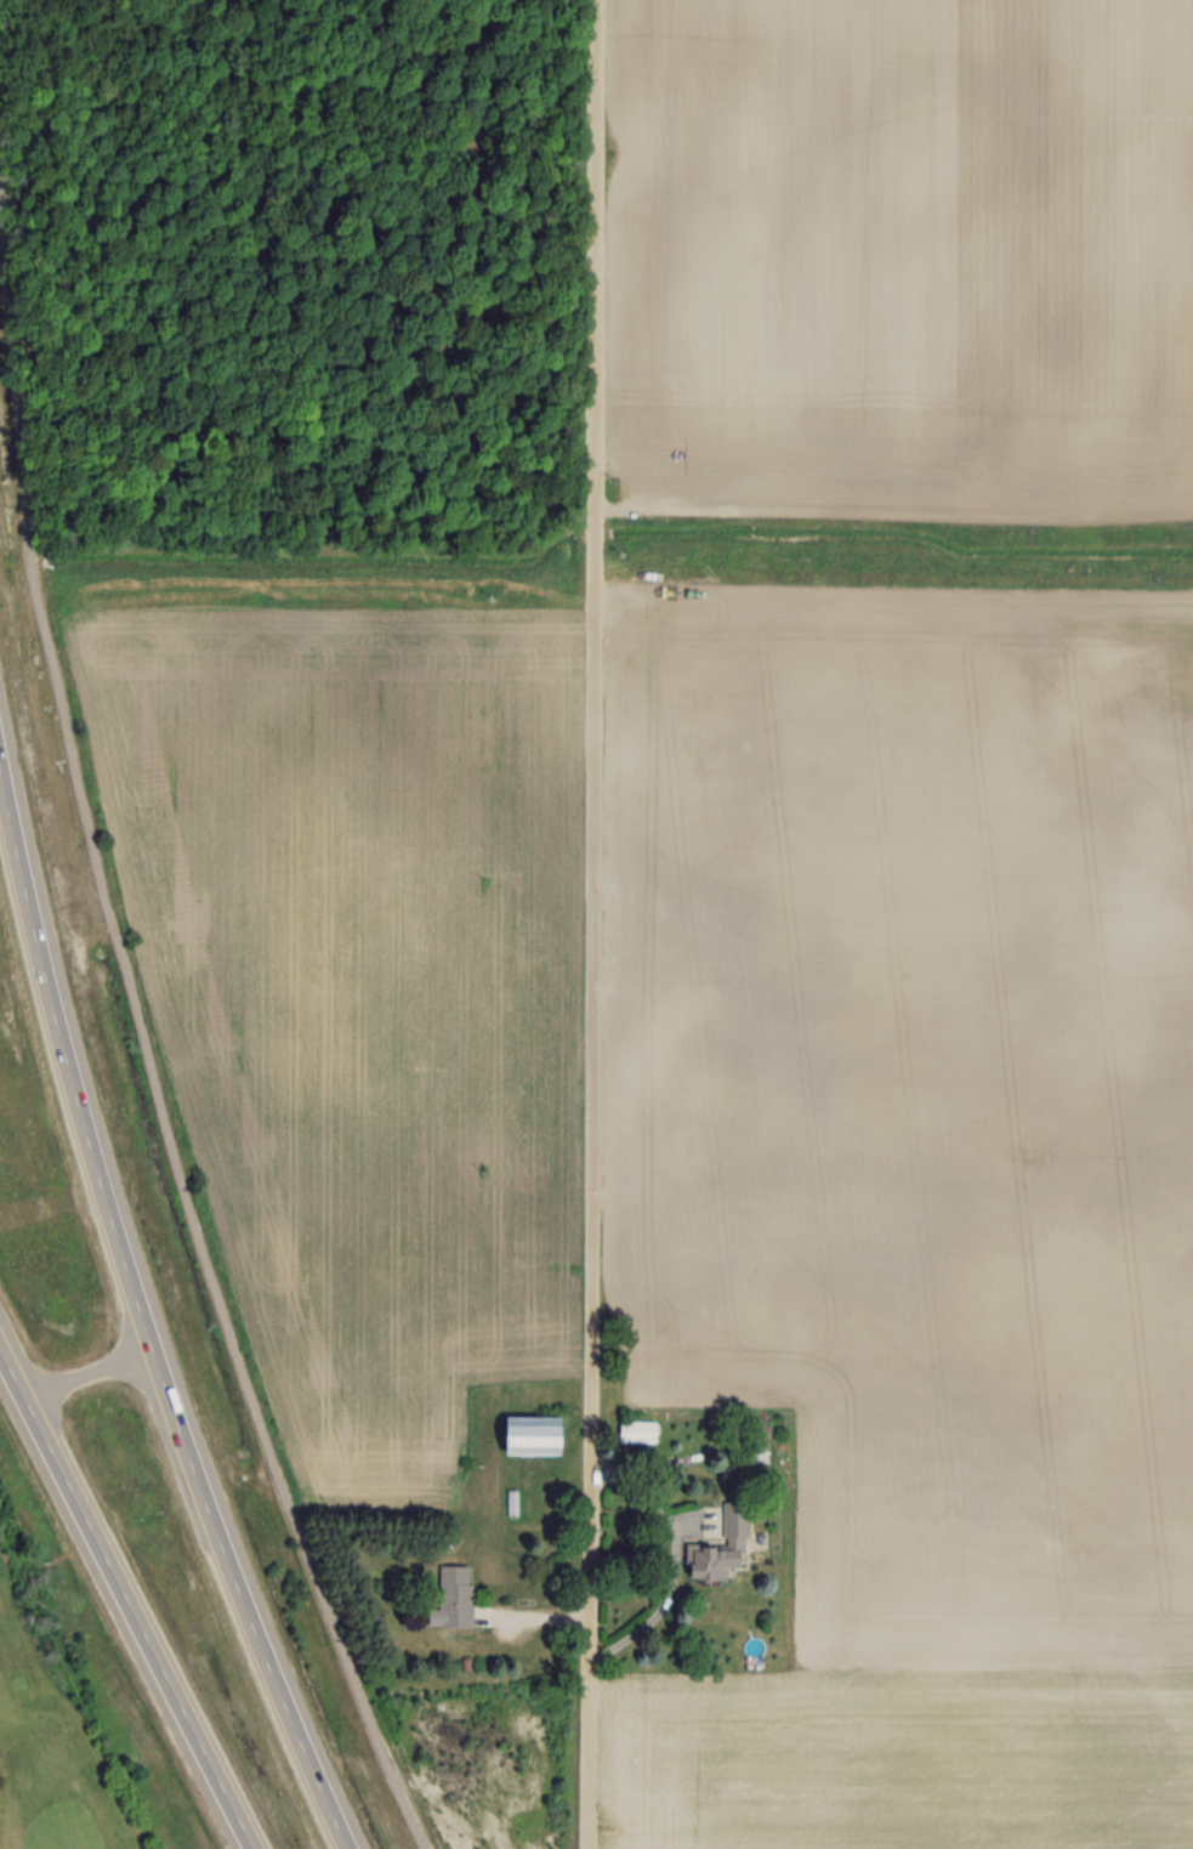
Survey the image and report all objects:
road: (592, 924)
road: (144, 1059)
road: (53, 1203)
road: (144, 1310)
building: (637, 1430)
building: (528, 1435)
building: (749, 1450)
building: (720, 1545)
road: (672, 1559)
road: (126, 1596)
building: (454, 1596)
park: (57, 1729)

